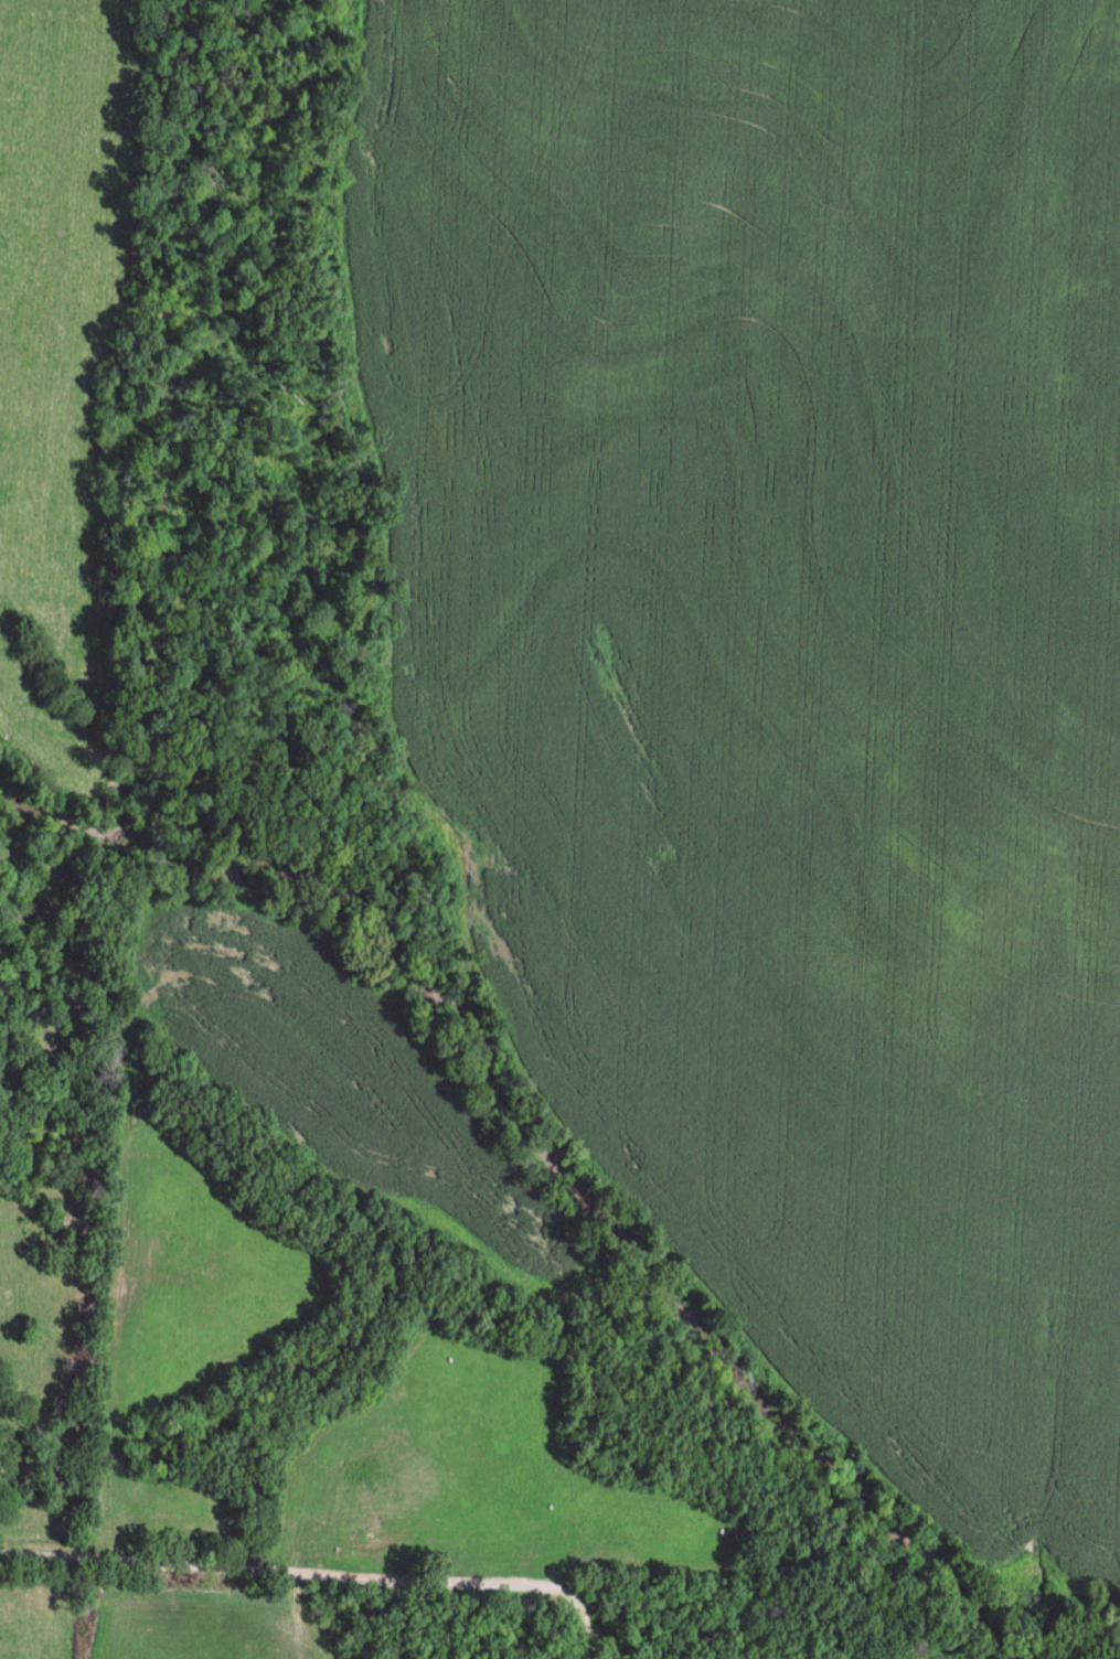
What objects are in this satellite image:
road: (137, 1283)
road: (326, 1572)

